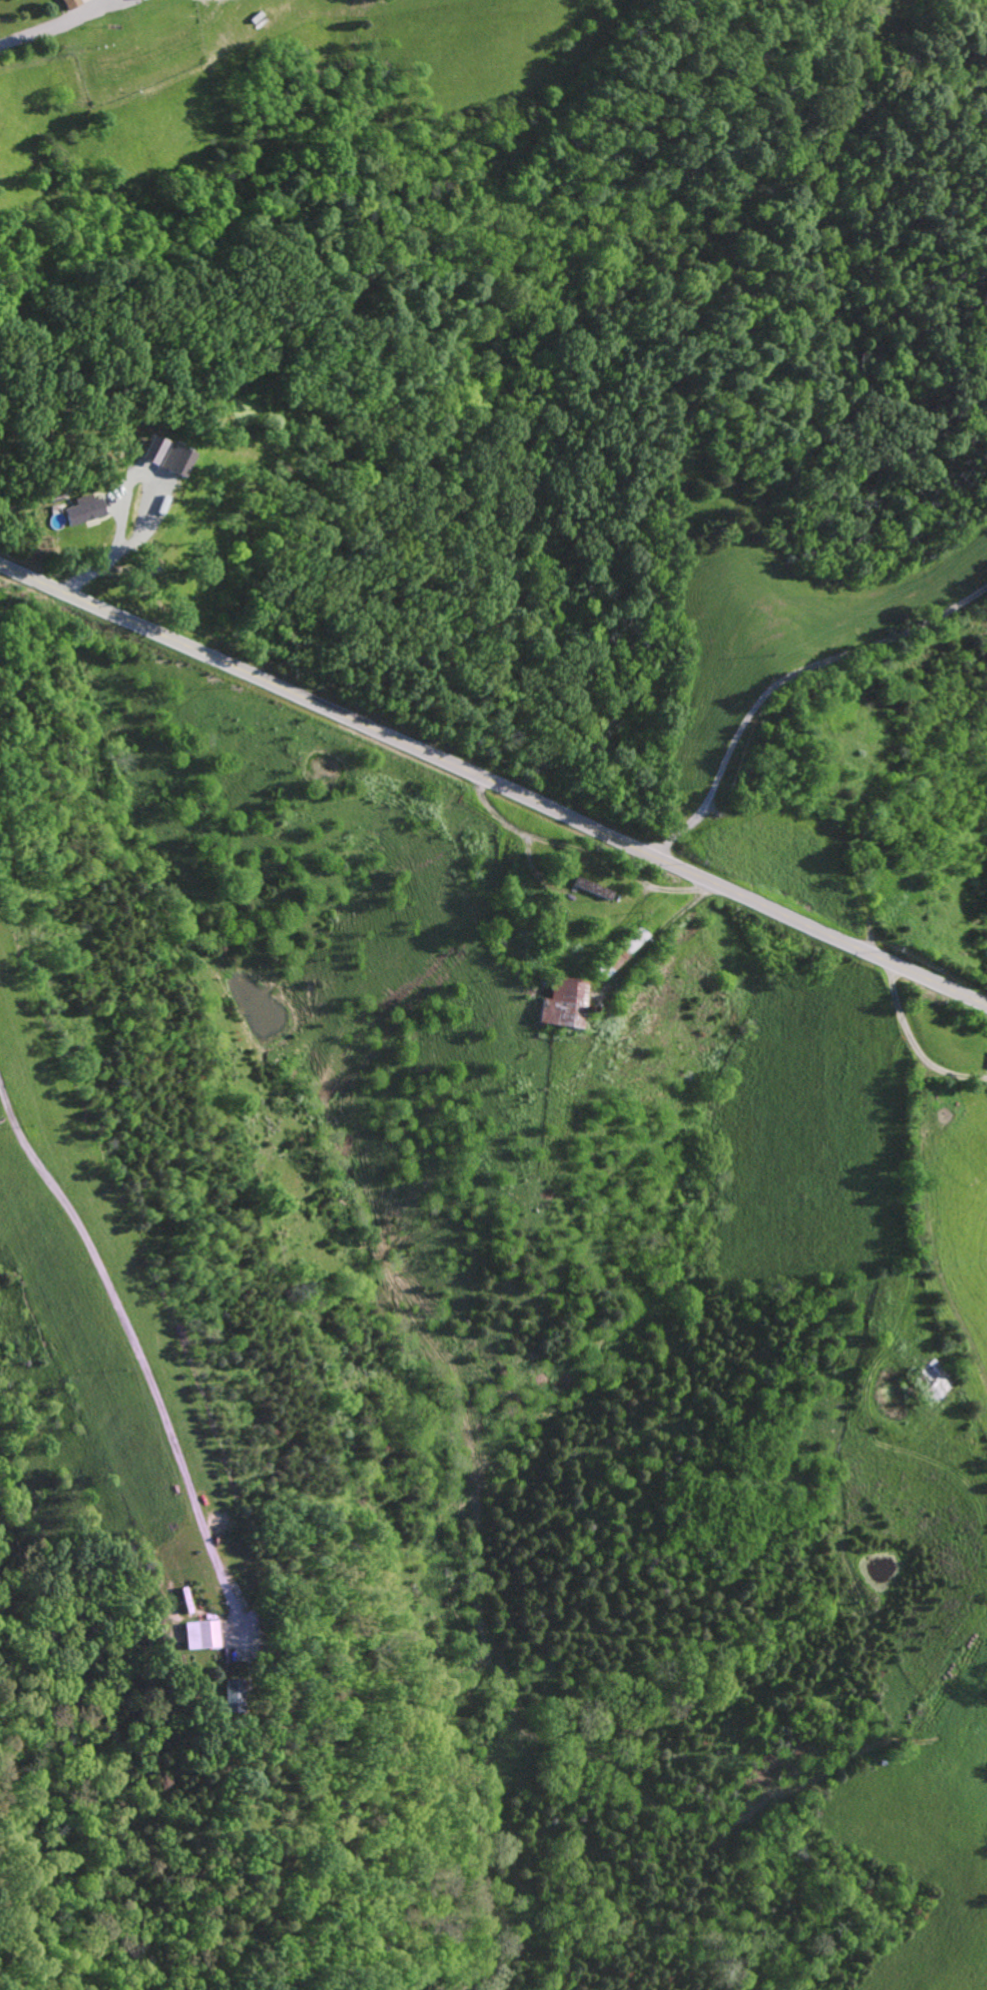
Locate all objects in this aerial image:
building: (72, 3)
road: (53, 23)
building: (154, 448)
building: (176, 459)
building: (85, 509)
road: (784, 680)
road: (494, 783)
building: (564, 1003)
building: (986, 1067)
road: (930, 1073)
road: (906, 1209)
road: (136, 1355)
building: (201, 1634)
building: (234, 1694)

